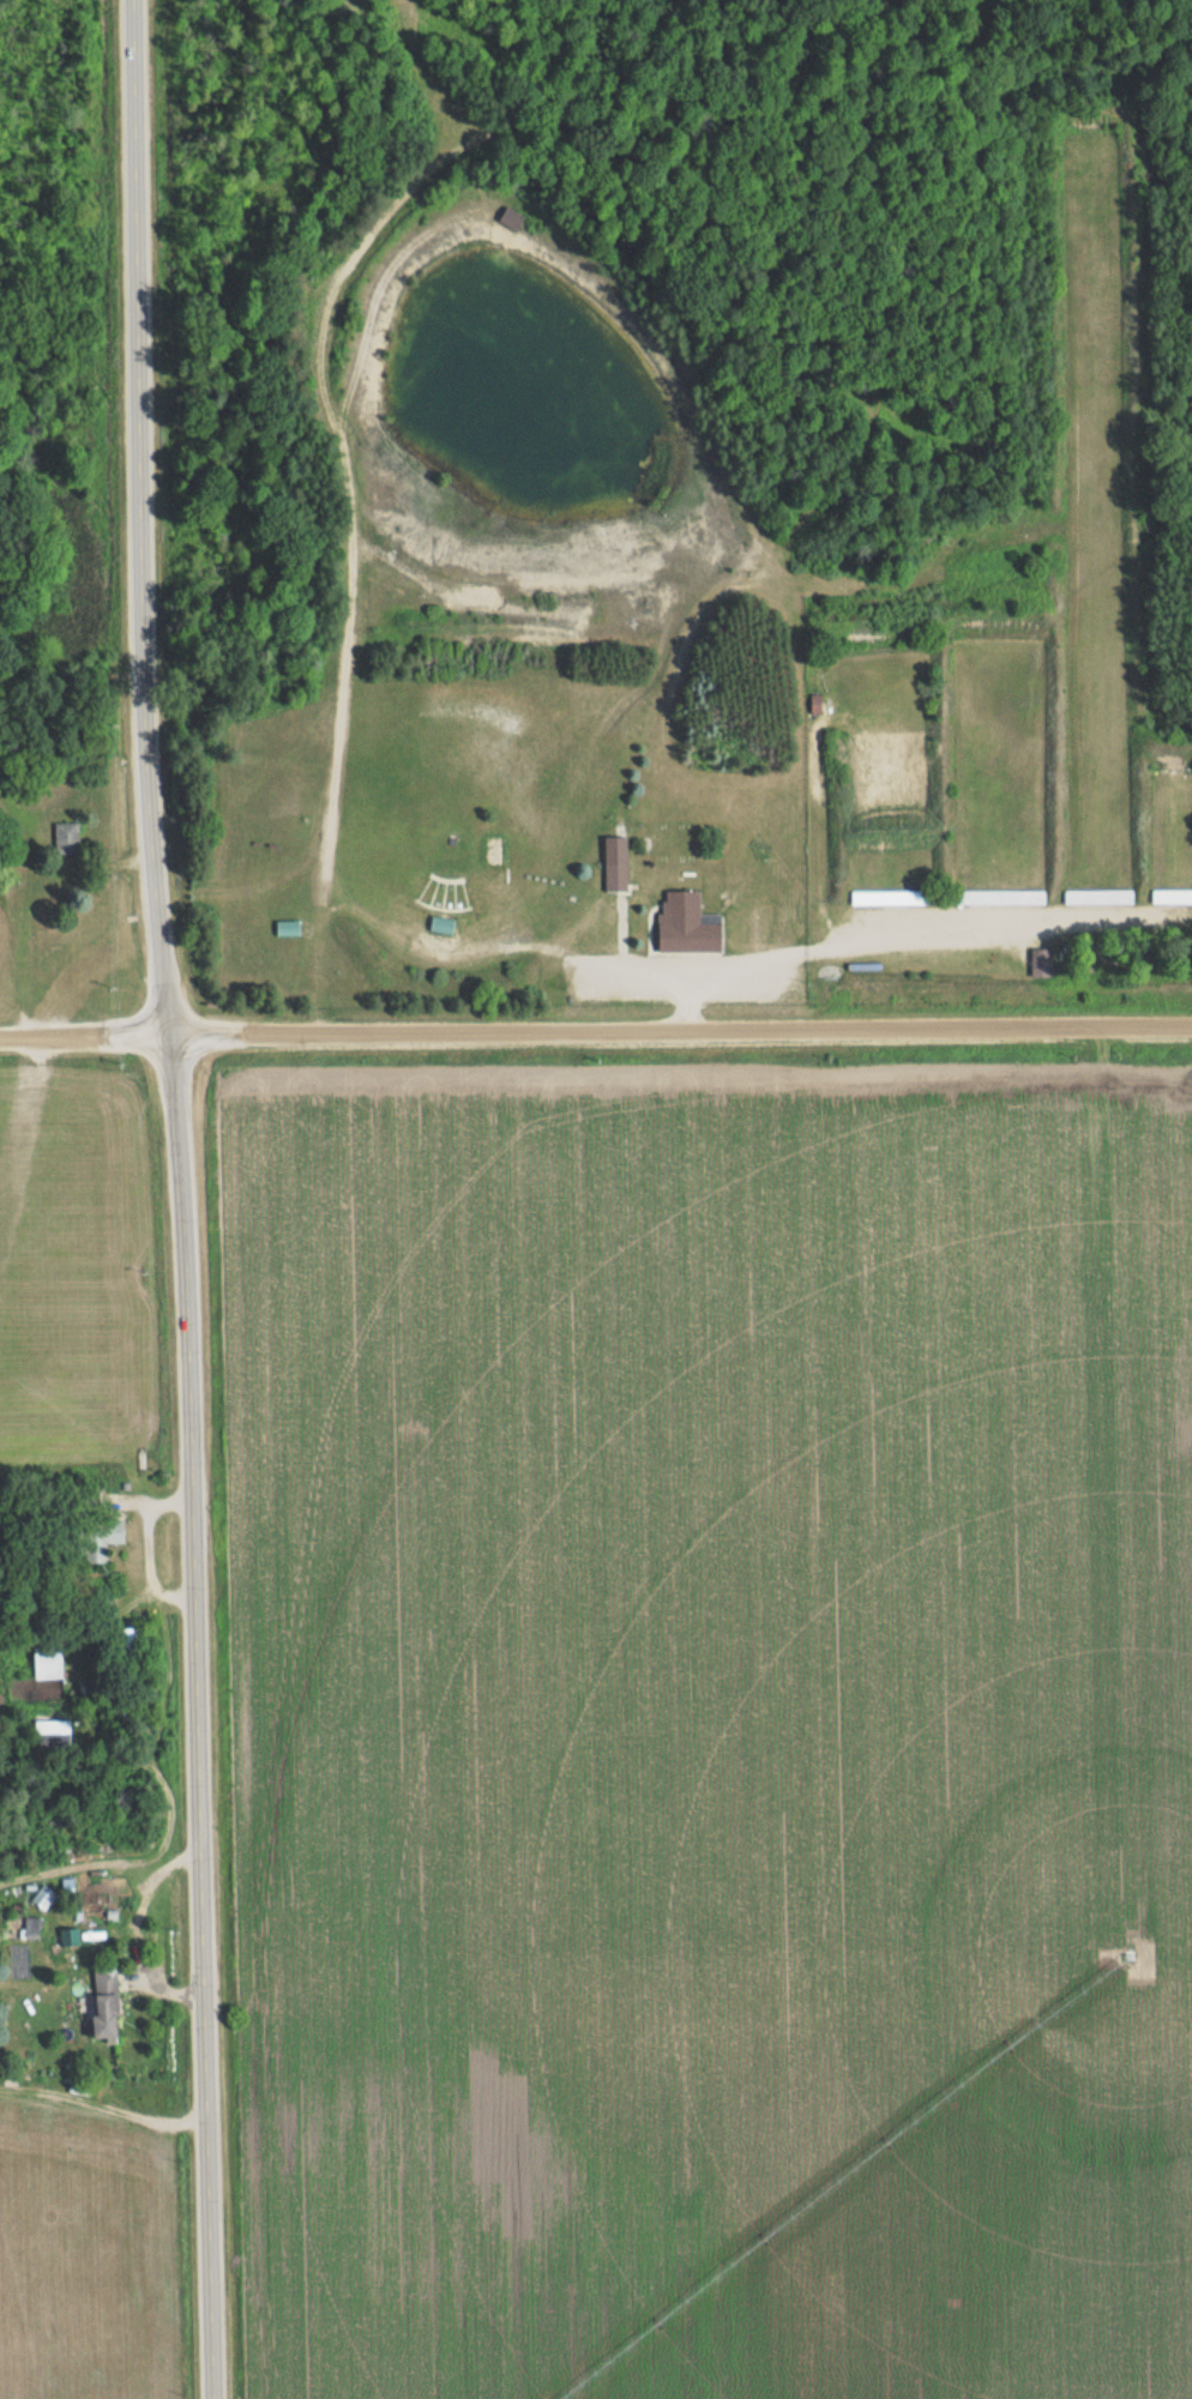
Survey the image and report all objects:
building: (513, 216)
park: (1041, 650)
building: (815, 703)
road: (339, 725)
building: (66, 837)
building: (616, 861)
building: (1000, 897)
building: (1098, 897)
building: (1172, 897)
building: (892, 898)
park: (443, 916)
building: (687, 923)
road: (1003, 923)
road: (818, 940)
building: (1042, 960)
road: (620, 964)
parking lot: (684, 982)
road: (716, 1035)
road: (167, 1037)
road: (47, 1038)
road: (185, 1198)
building: (95, 1544)
building: (125, 1648)
building: (48, 1658)
building: (52, 1731)
building: (43, 1897)
building: (31, 1928)
building: (106, 2005)

